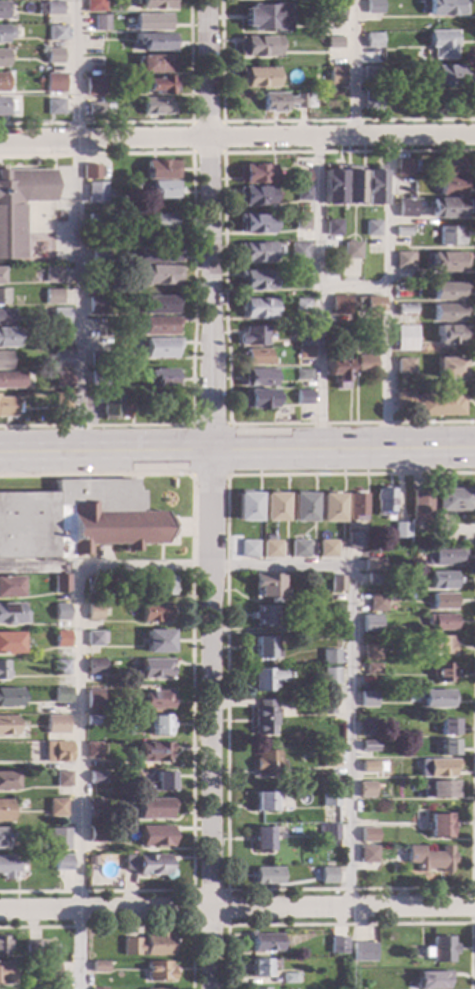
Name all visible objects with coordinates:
building: (153, 4)
building: (94, 6)
building: (373, 7)
building: (49, 8)
building: (445, 8)
building: (2, 11)
building: (334, 12)
building: (264, 18)
building: (40, 21)
building: (100, 22)
building: (150, 23)
building: (5, 33)
building: (56, 33)
building: (372, 41)
building: (154, 43)
building: (333, 43)
building: (441, 44)
building: (257, 46)
building: (53, 56)
building: (2, 58)
building: (153, 64)
road: (351, 68)
building: (369, 75)
building: (445, 76)
building: (256, 77)
building: (334, 77)
building: (53, 82)
building: (2, 83)
building: (156, 86)
building: (93, 87)
building: (409, 98)
building: (371, 101)
building: (280, 102)
building: (5, 106)
building: (155, 106)
building: (54, 107)
building: (94, 109)
road: (286, 122)
road: (156, 123)
road: (237, 139)
road: (189, 153)
building: (451, 167)
building: (405, 168)
building: (159, 170)
building: (90, 172)
building: (253, 174)
building: (299, 177)
building: (417, 183)
building: (351, 185)
building: (330, 186)
building: (372, 186)
building: (451, 187)
building: (161, 190)
building: (95, 194)
building: (302, 194)
building: (254, 196)
building: (19, 205)
building: (446, 208)
building: (405, 209)
building: (158, 222)
building: (95, 223)
building: (299, 223)
building: (255, 224)
road: (77, 227)
building: (332, 228)
building: (371, 228)
building: (402, 232)
building: (449, 236)
building: (298, 251)
building: (351, 251)
building: (257, 252)
building: (157, 254)
building: (99, 255)
building: (403, 260)
building: (445, 262)
building: (52, 275)
building: (159, 276)
building: (255, 281)
building: (300, 281)
road: (224, 286)
building: (94, 288)
road: (192, 289)
road: (351, 291)
building: (446, 292)
road: (318, 295)
road: (384, 295)
building: (3, 297)
building: (52, 297)
building: (94, 305)
building: (157, 305)
building: (340, 305)
building: (301, 306)
building: (368, 306)
building: (256, 309)
building: (447, 312)
building: (405, 314)
building: (59, 316)
building: (5, 317)
building: (157, 326)
building: (302, 332)
building: (289, 333)
building: (450, 335)
building: (61, 337)
building: (252, 337)
building: (7, 338)
building: (405, 338)
building: (159, 348)
building: (303, 354)
building: (256, 357)
building: (61, 358)
building: (97, 360)
building: (3, 361)
building: (365, 364)
building: (114, 366)
building: (404, 366)
building: (447, 368)
building: (338, 372)
building: (302, 375)
building: (160, 378)
building: (256, 378)
building: (62, 379)
building: (97, 379)
building: (11, 380)
building: (301, 397)
building: (258, 400)
building: (61, 401)
building: (431, 403)
building: (6, 407)
building: (110, 407)
road: (208, 425)
road: (237, 453)
road: (474, 462)
road: (208, 475)
road: (211, 494)
building: (451, 500)
building: (384, 503)
building: (419, 506)
building: (248, 507)
building: (276, 507)
building: (356, 507)
building: (304, 508)
building: (331, 508)
building: (77, 520)
building: (400, 531)
building: (355, 541)
building: (250, 549)
building: (272, 549)
building: (300, 549)
building: (328, 549)
building: (383, 552)
building: (443, 558)
building: (373, 565)
road: (175, 568)
building: (388, 578)
building: (374, 579)
building: (441, 581)
building: (337, 583)
building: (61, 584)
building: (90, 586)
building: (162, 586)
building: (10, 587)
building: (268, 587)
building: (442, 602)
building: (377, 603)
building: (61, 612)
building: (94, 613)
building: (155, 613)
building: (11, 614)
building: (266, 616)
building: (440, 622)
building: (371, 624)
building: (308, 628)
building: (408, 631)
building: (61, 639)
building: (95, 639)
building: (158, 642)
building: (10, 643)
building: (438, 646)
building: (266, 648)
building: (372, 652)
building: (331, 657)
building: (61, 667)
building: (95, 667)
building: (156, 669)
building: (373, 669)
building: (3, 670)
building: (442, 673)
building: (330, 676)
building: (269, 679)
road: (190, 682)
building: (61, 695)
building: (93, 697)
building: (8, 698)
building: (368, 699)
building: (435, 699)
building: (157, 700)
building: (326, 708)
building: (265, 718)
building: (95, 720)
building: (59, 721)
building: (160, 725)
building: (7, 726)
building: (369, 728)
building: (447, 728)
building: (369, 746)
building: (447, 747)
building: (92, 750)
building: (56, 752)
building: (153, 752)
building: (330, 759)
building: (267, 764)
building: (373, 767)
building: (436, 768)
building: (95, 778)
building: (62, 779)
building: (6, 781)
building: (160, 782)
building: (366, 790)
building: (442, 790)
building: (329, 799)
building: (265, 801)
building: (95, 805)
building: (56, 808)
building: (154, 809)
building: (5, 811)
building: (438, 826)
building: (60, 832)
building: (328, 833)
building: (95, 835)
building: (368, 835)
building: (155, 837)
building: (2, 838)
building: (262, 839)
building: (367, 854)
building: (429, 859)
building: (386, 860)
building: (90, 861)
building: (61, 863)
building: (147, 865)
building: (8, 868)
building: (268, 876)
building: (327, 876)
road: (226, 890)
road: (471, 905)
road: (237, 911)
road: (350, 923)
road: (226, 925)
road: (127, 926)
building: (264, 942)
building: (147, 945)
building: (2, 946)
building: (338, 946)
building: (35, 950)
building: (51, 950)
building: (439, 950)
building: (362, 952)
building: (99, 967)
building: (263, 967)
building: (46, 970)
building: (158, 971)
building: (6, 973)
building: (289, 978)
building: (431, 980)
building: (257, 988)

